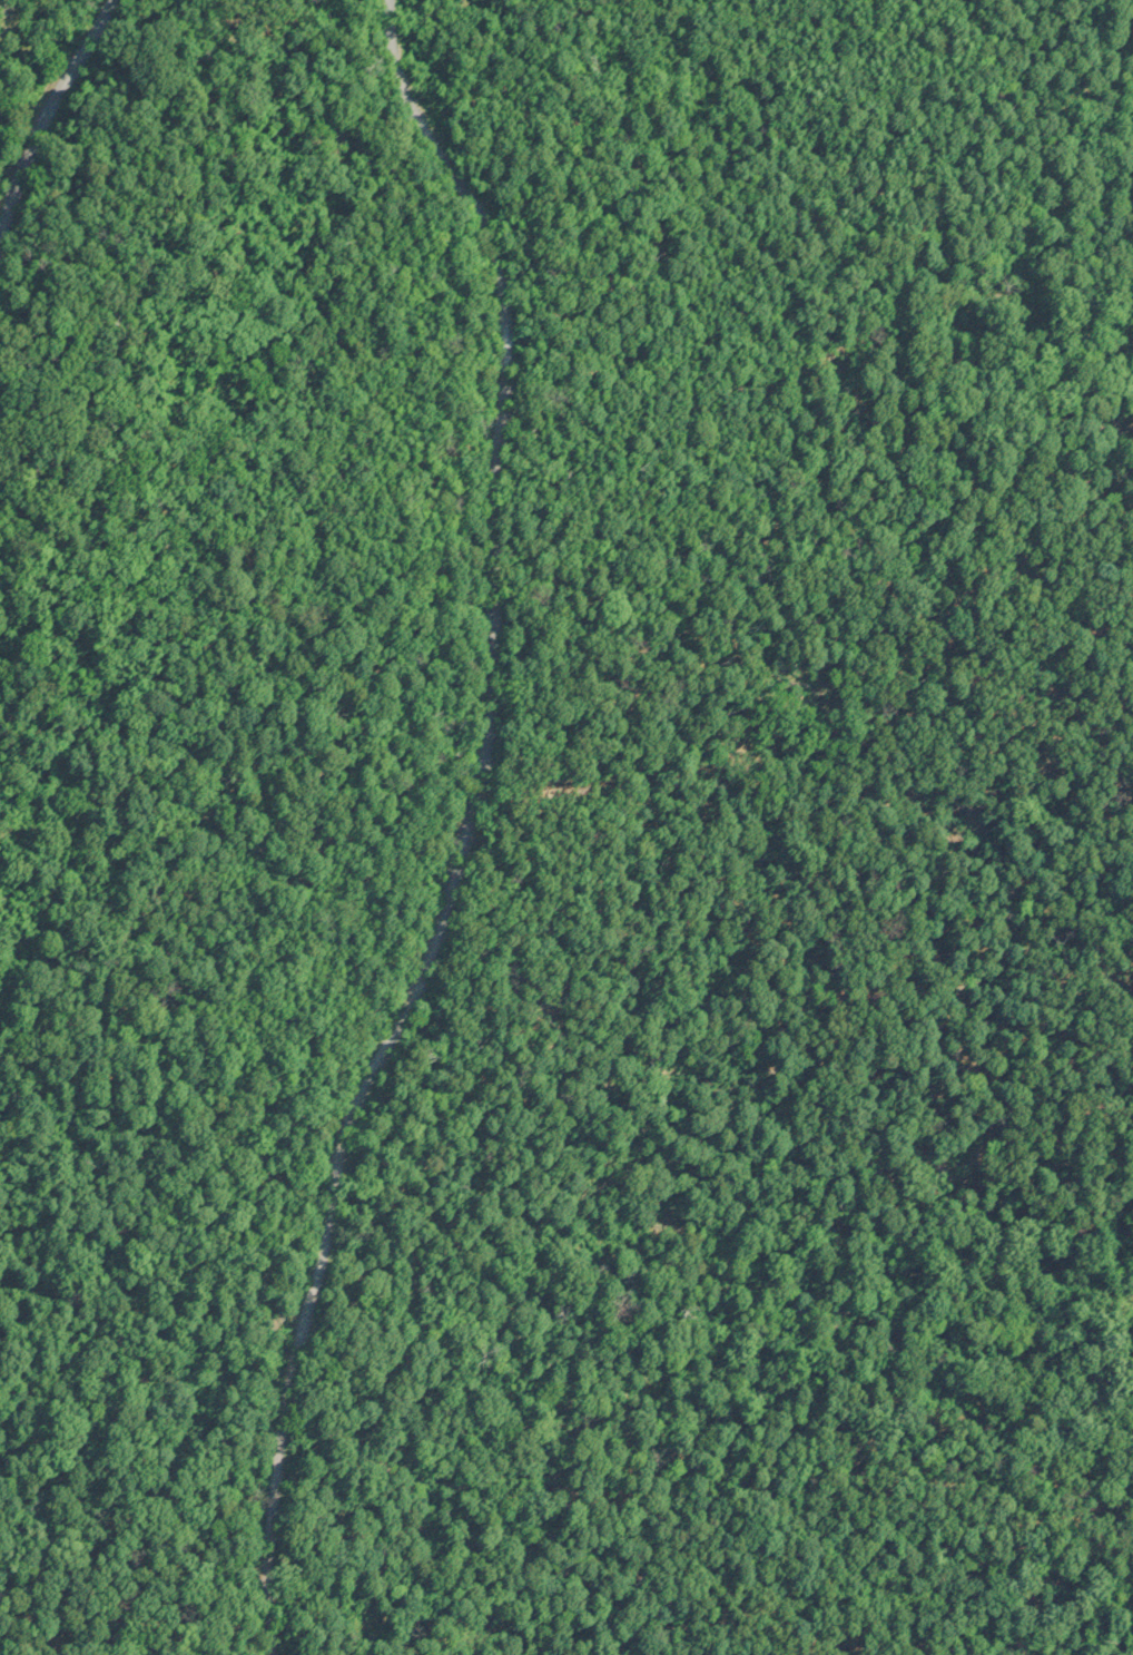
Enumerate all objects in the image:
road: (47, 115)
road: (465, 829)

